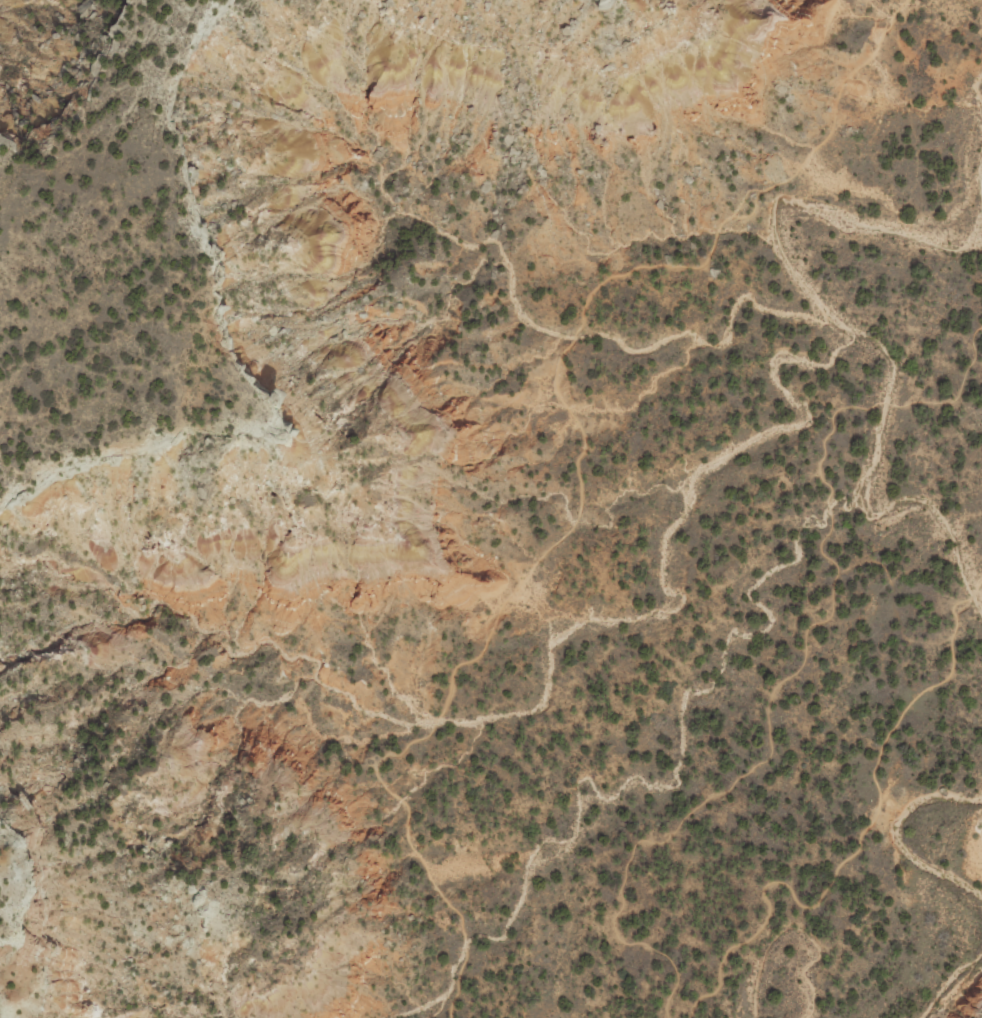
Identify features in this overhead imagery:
road: (581, 469)
road: (897, 585)
road: (798, 662)
road: (864, 831)

